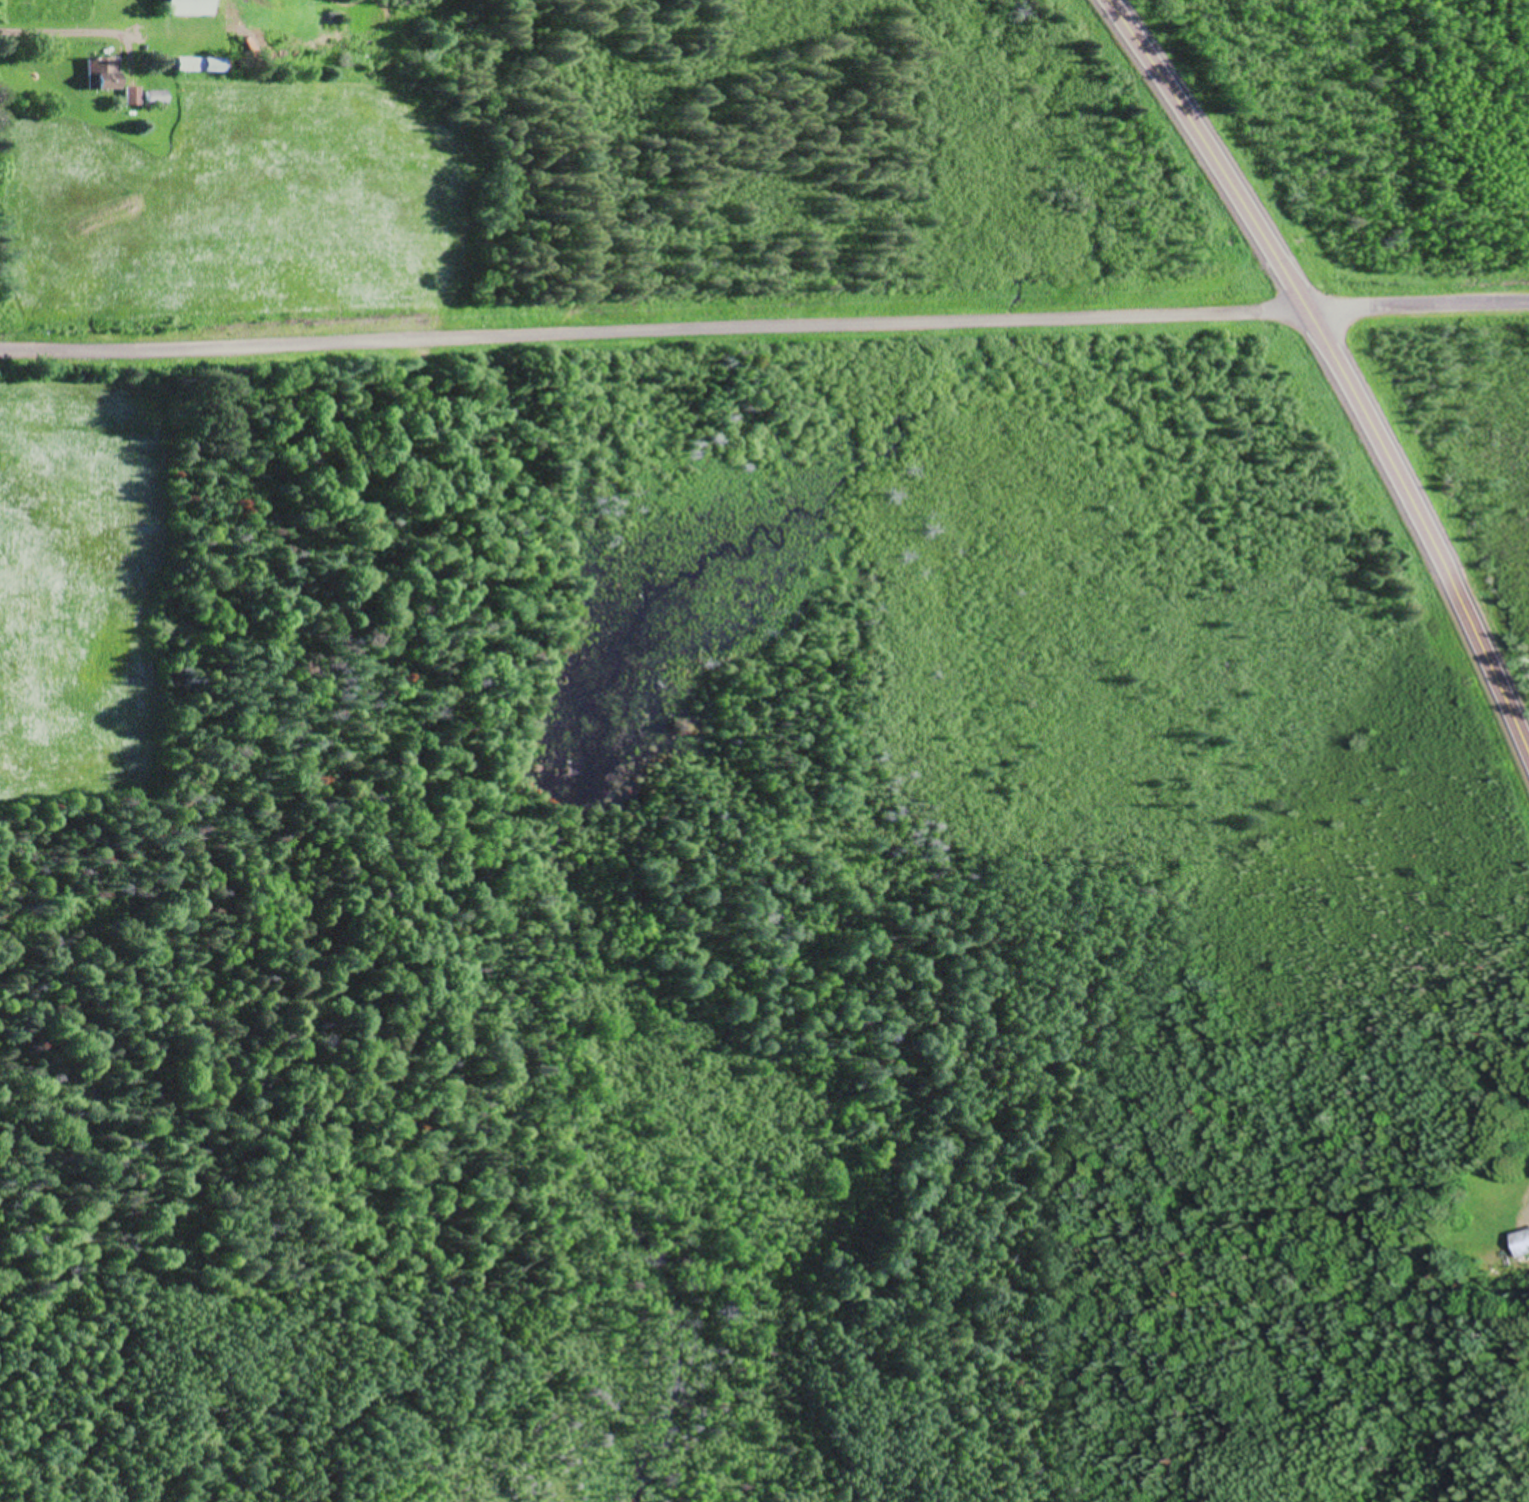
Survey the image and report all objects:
building: (187, 7)
building: (200, 64)
building: (103, 72)
building: (131, 95)
building: (156, 97)
road: (1417, 305)
road: (653, 329)
road: (1338, 365)
building: (1524, 1243)

